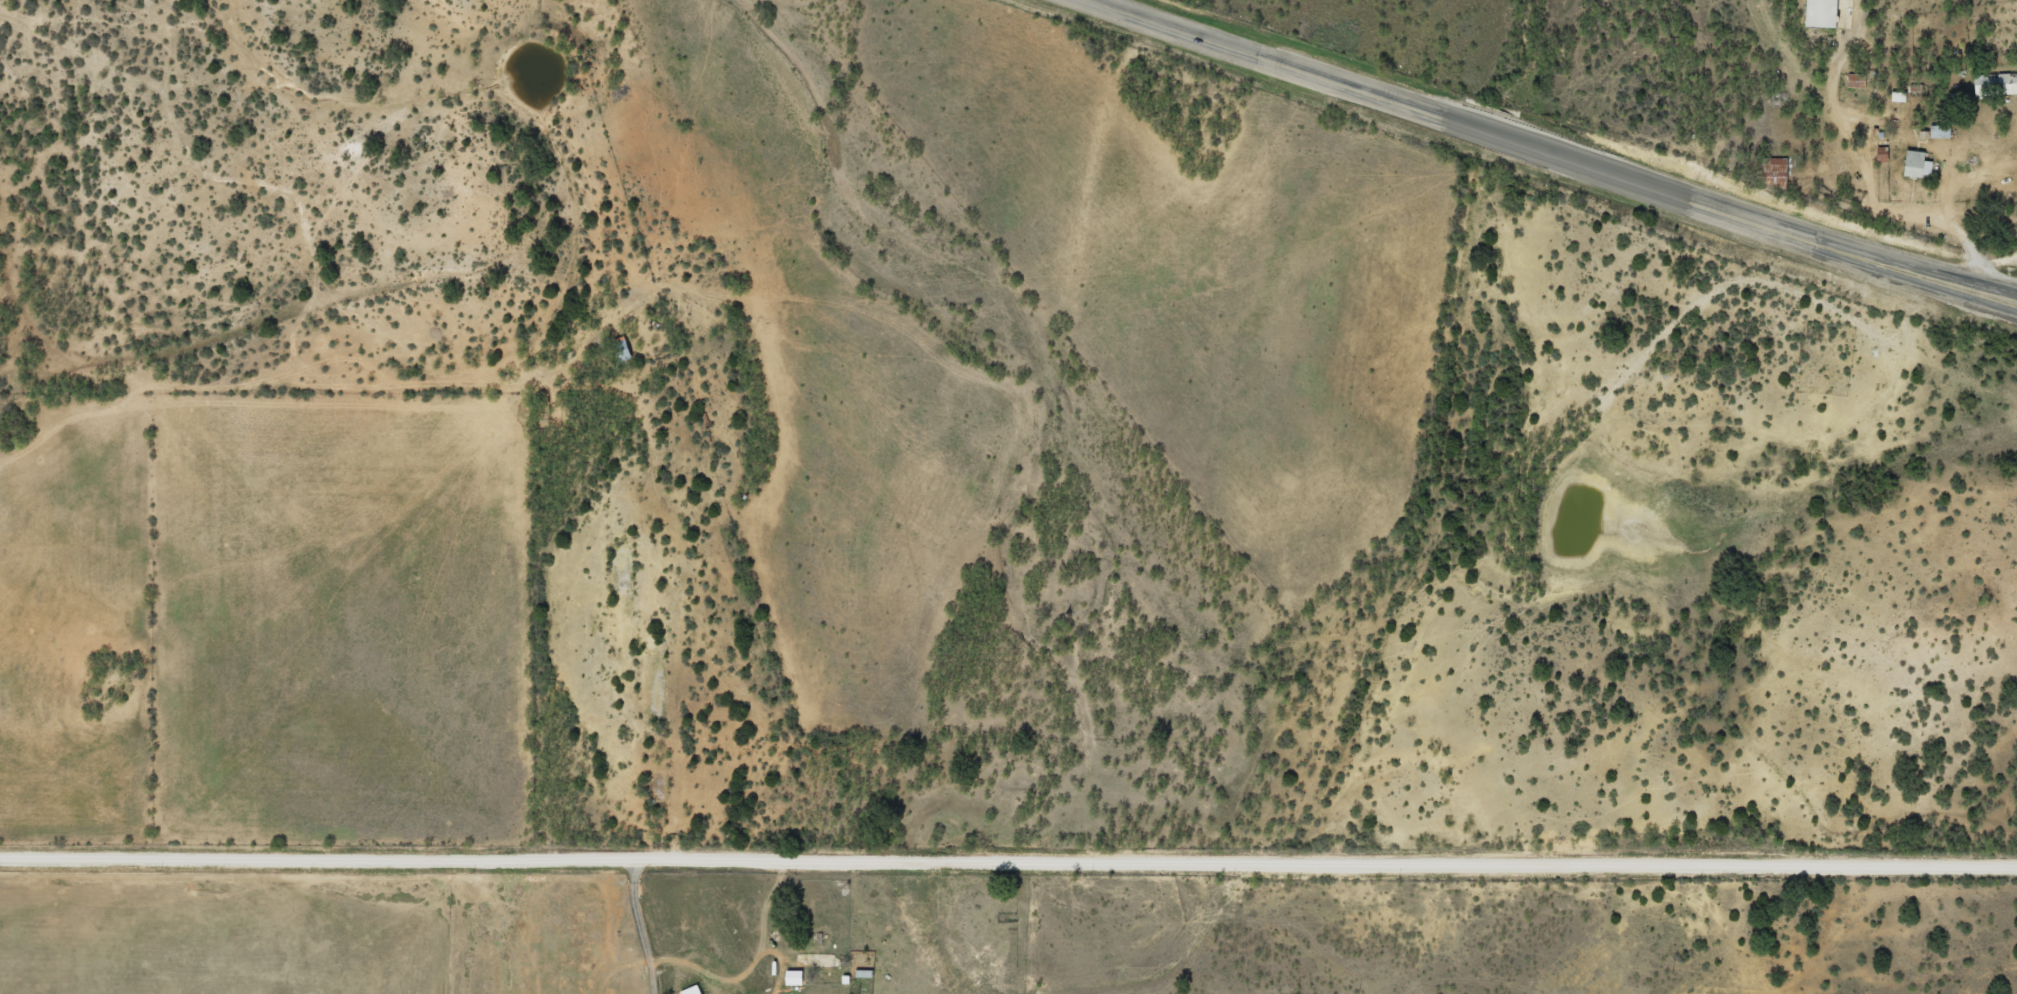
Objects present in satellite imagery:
building: (1813, 14)
building: (1991, 84)
road: (1442, 122)
building: (1909, 165)
road: (1913, 269)
road: (1913, 279)
building: (614, 349)
road: (1008, 865)
road: (617, 929)
building: (683, 990)

